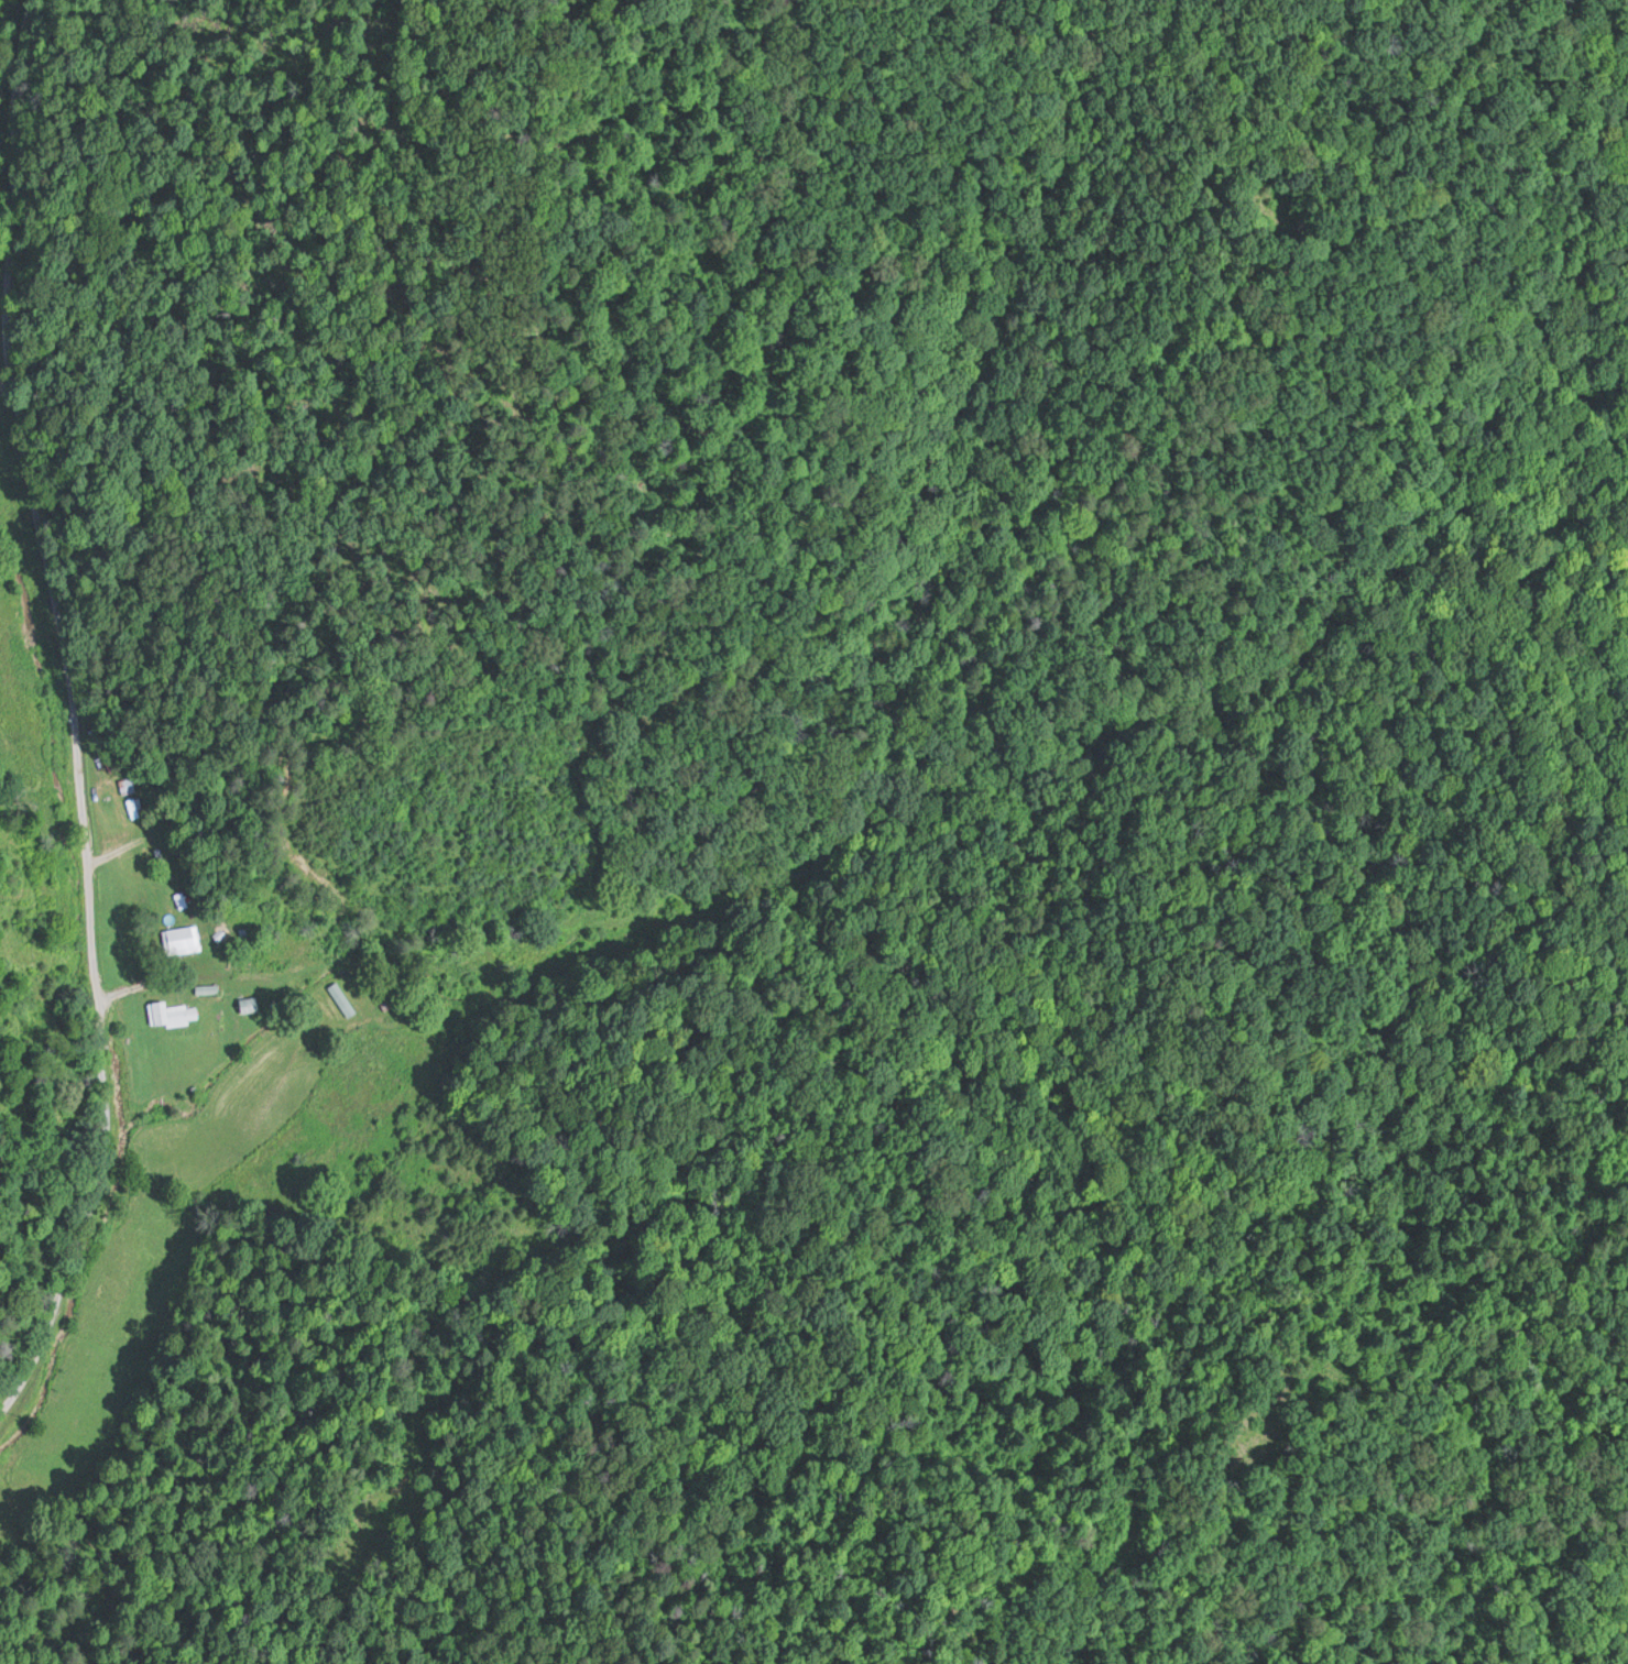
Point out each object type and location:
road: (95, 710)
building: (124, 781)
building: (131, 803)
building: (178, 937)
building: (340, 996)
building: (247, 1003)
building: (170, 1010)

